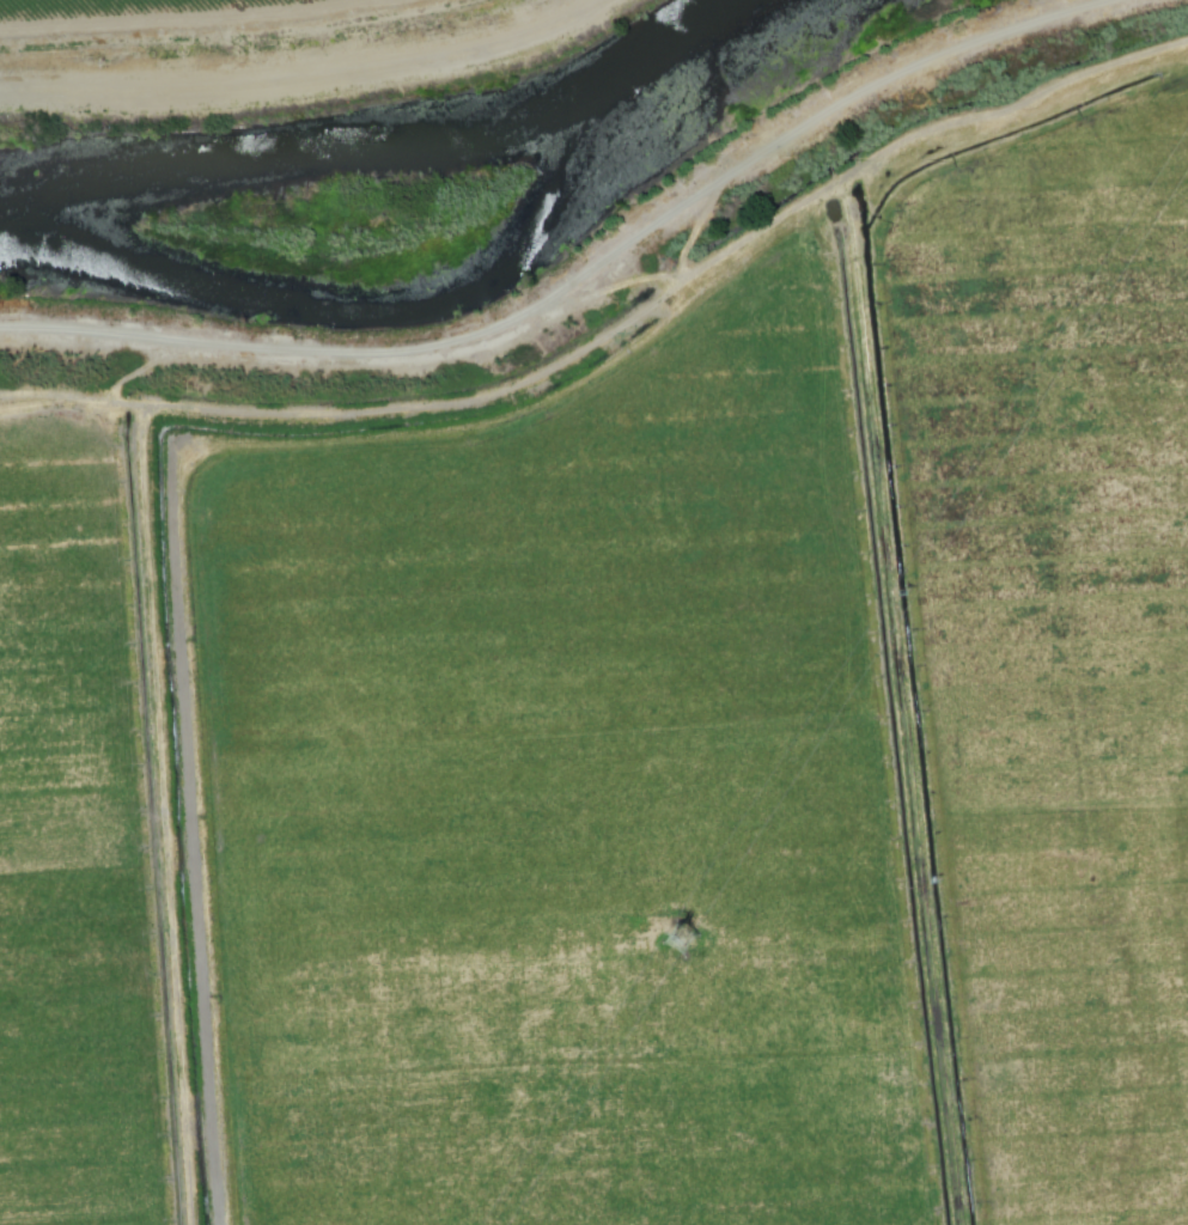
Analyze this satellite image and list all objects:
road: (244, 42)
river: (413, 124)
road: (563, 280)
road: (616, 295)
power tower: (671, 939)

